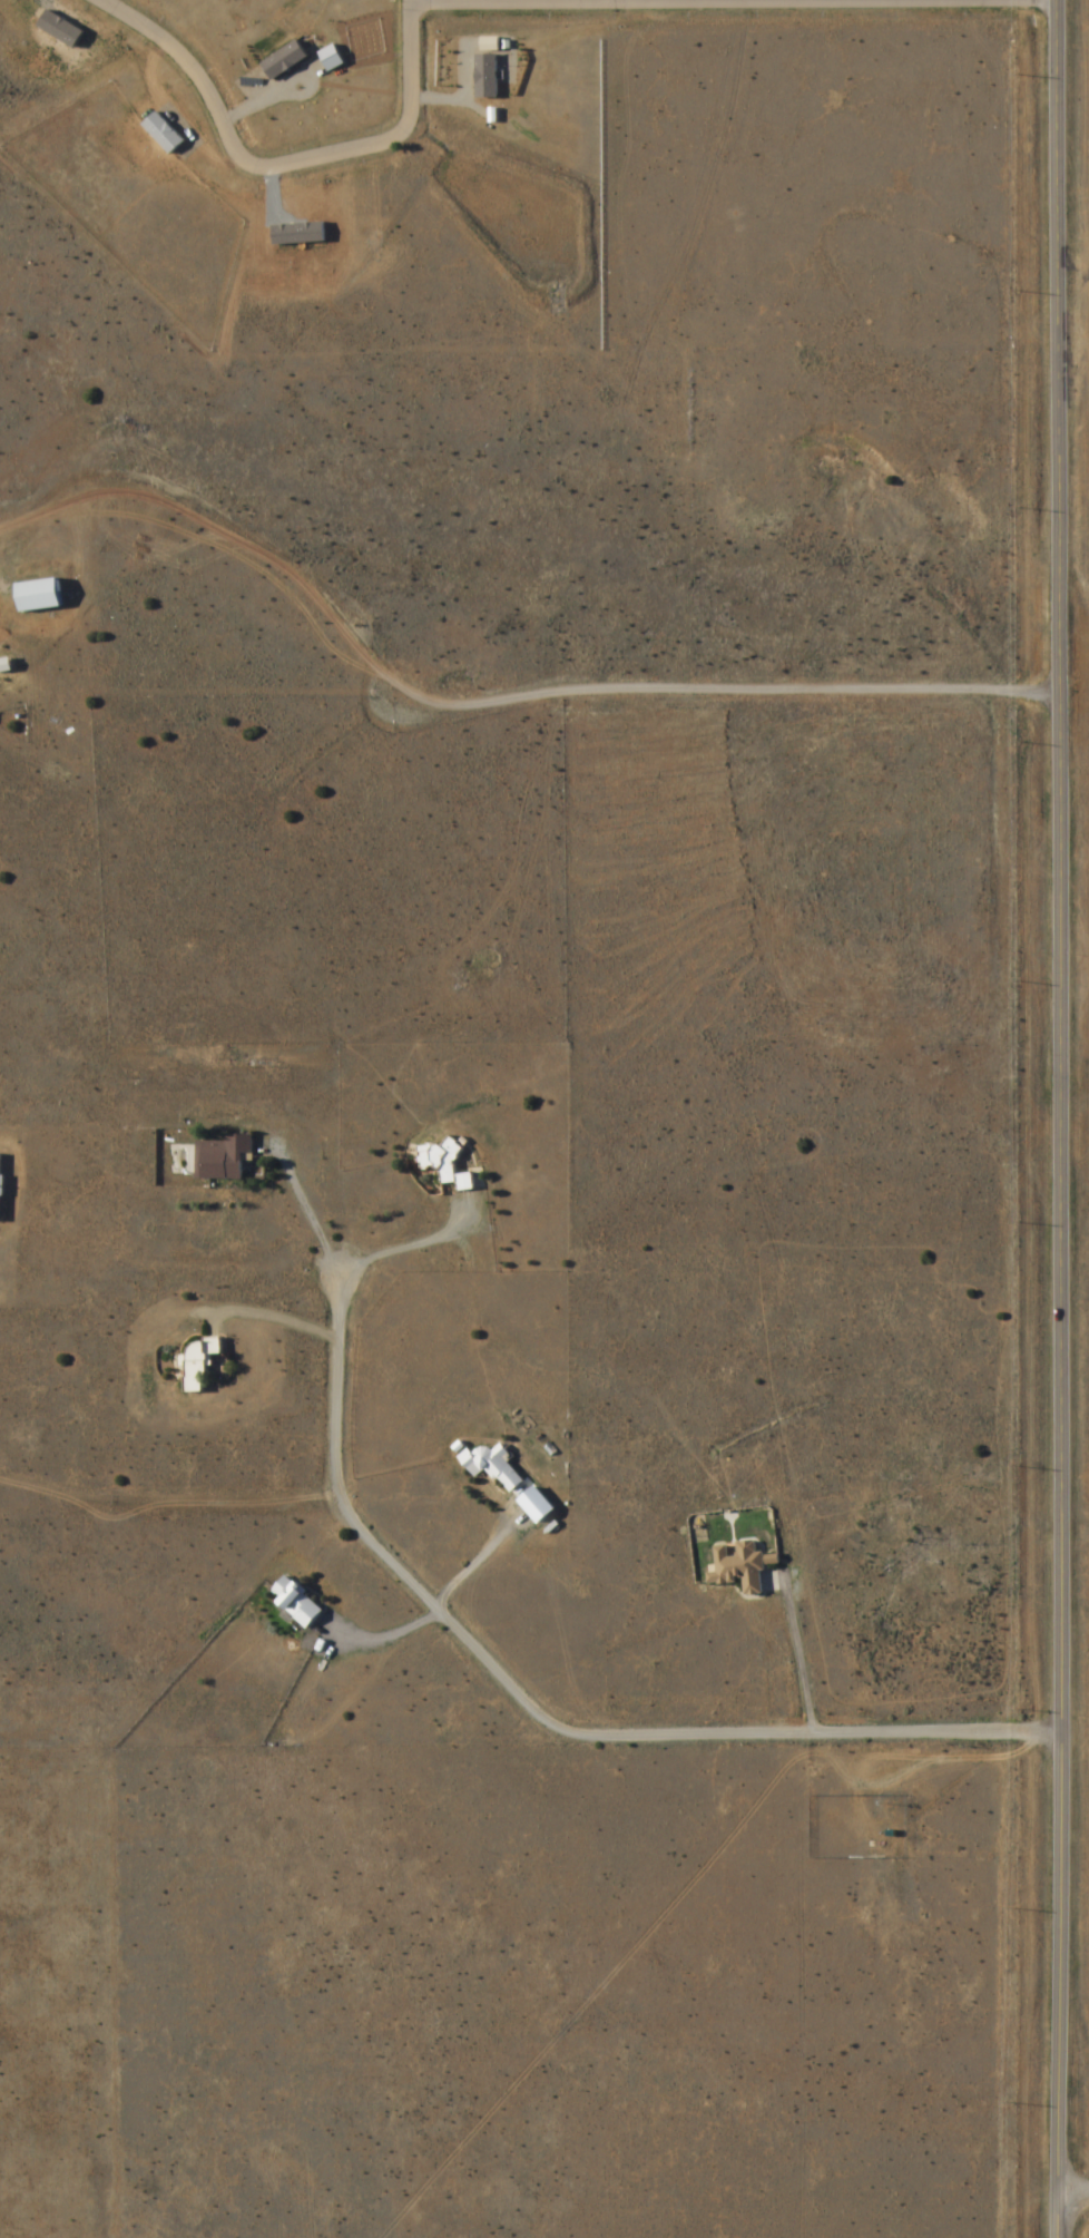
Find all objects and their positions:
road: (732, 3)
road: (282, 166)
building: (38, 596)
road: (1049, 1118)
building: (223, 1160)
building: (445, 1166)
building: (0, 1181)
building: (198, 1362)
building: (492, 1466)
building: (739, 1567)
building: (295, 1602)
road: (537, 1713)
road: (1071, 2199)

